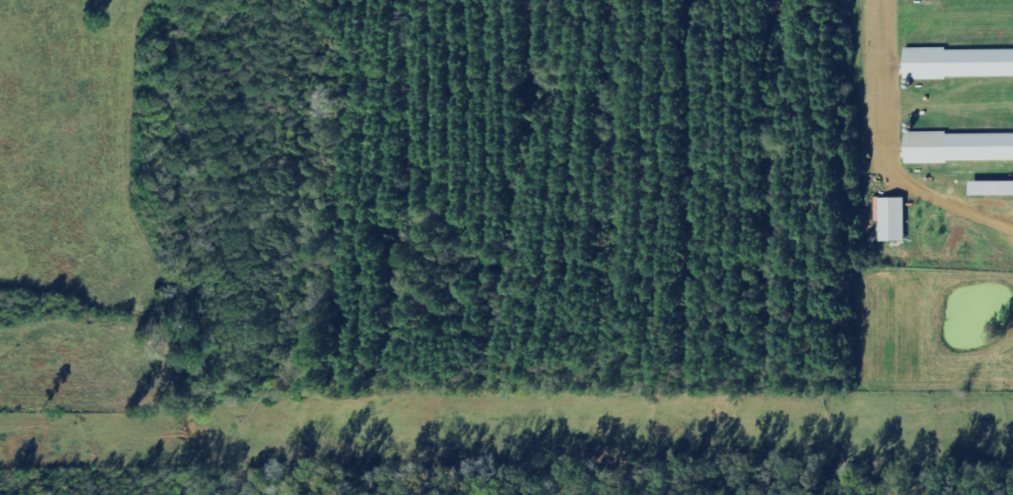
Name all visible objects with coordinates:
building: (960, 65)
building: (960, 148)
road: (891, 151)
building: (994, 190)
building: (894, 221)

